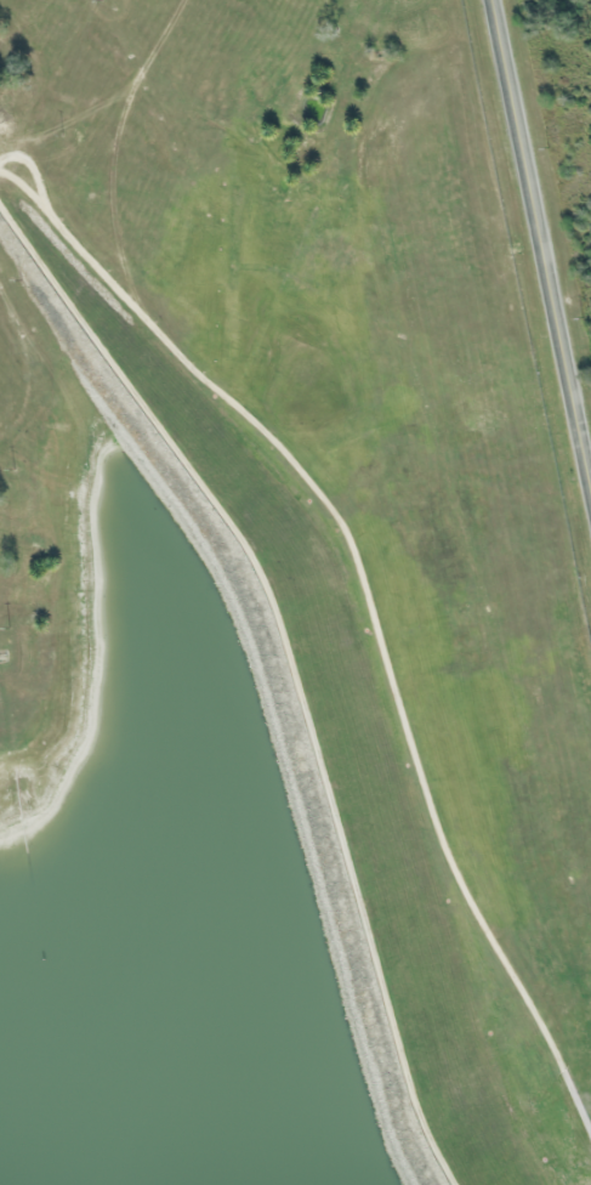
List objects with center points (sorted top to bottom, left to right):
road: (540, 255)
road: (570, 302)
road: (341, 542)

